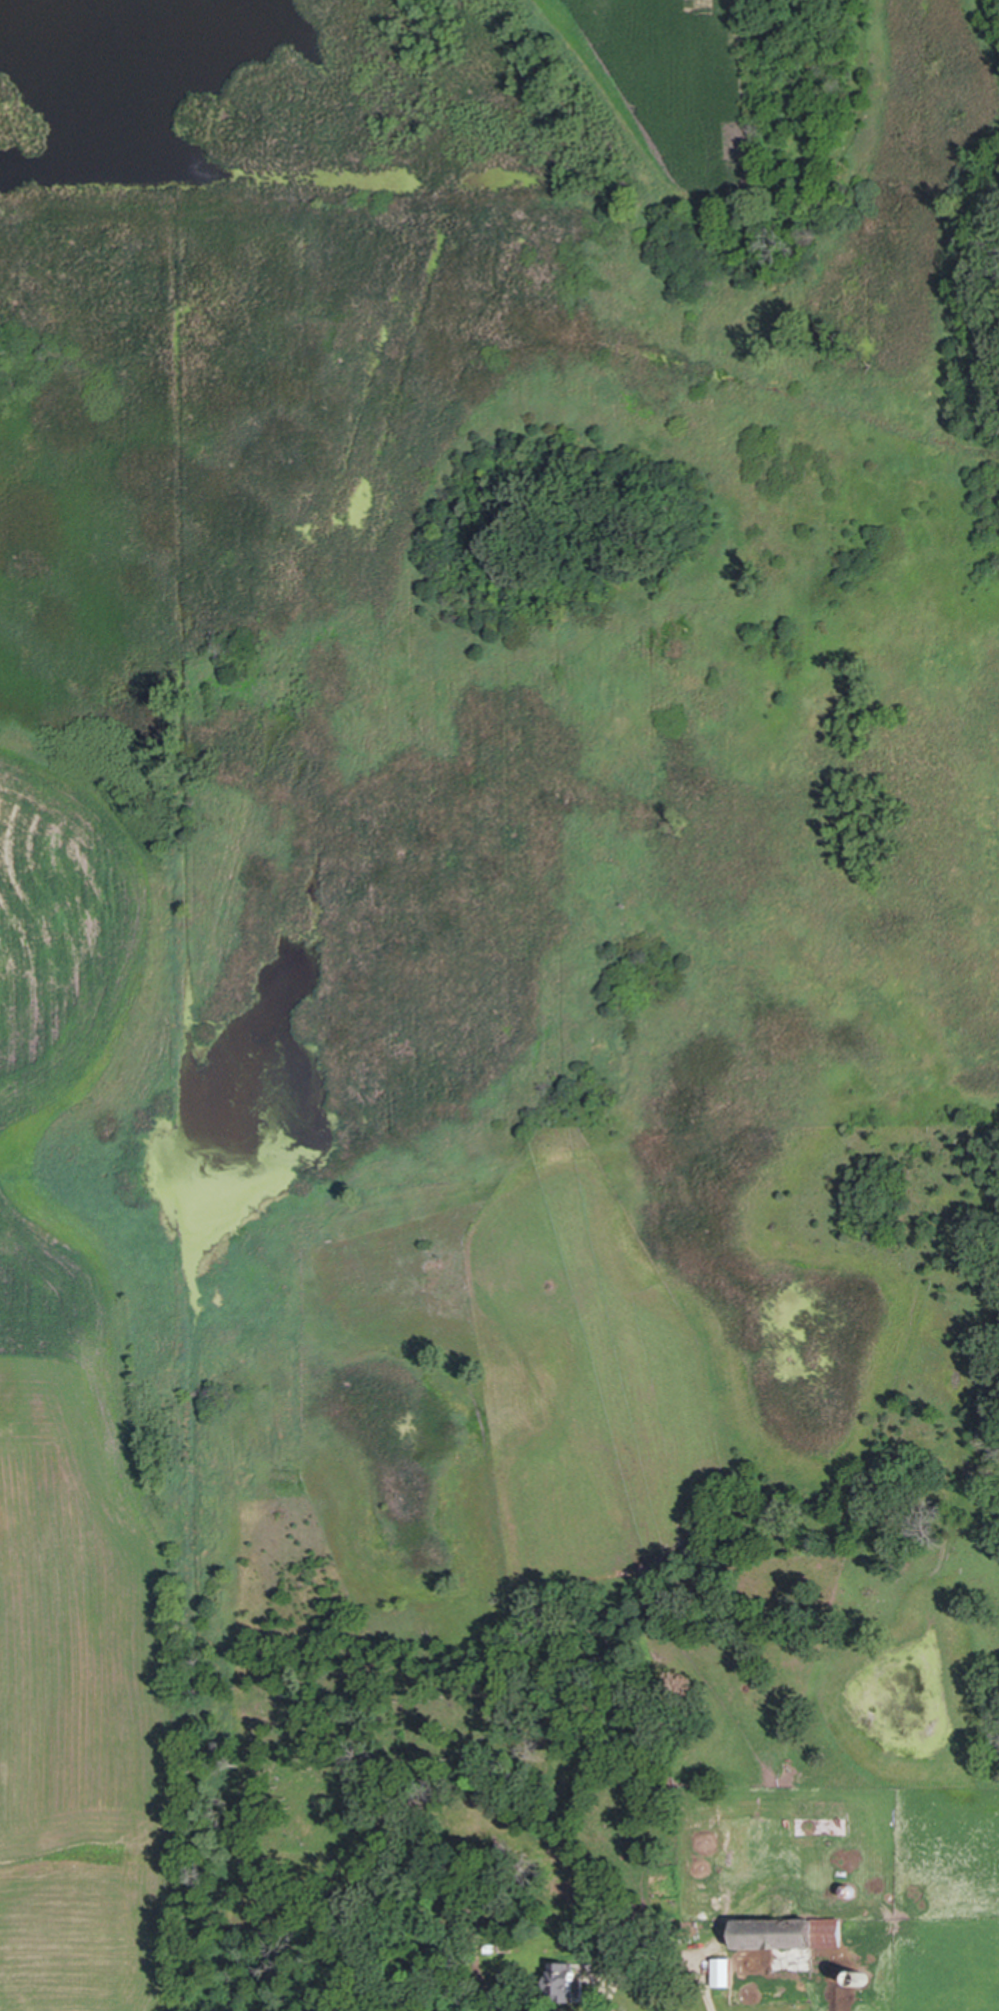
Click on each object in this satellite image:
building: (788, 1937)
road: (658, 1962)
building: (722, 1972)
building: (571, 1982)

